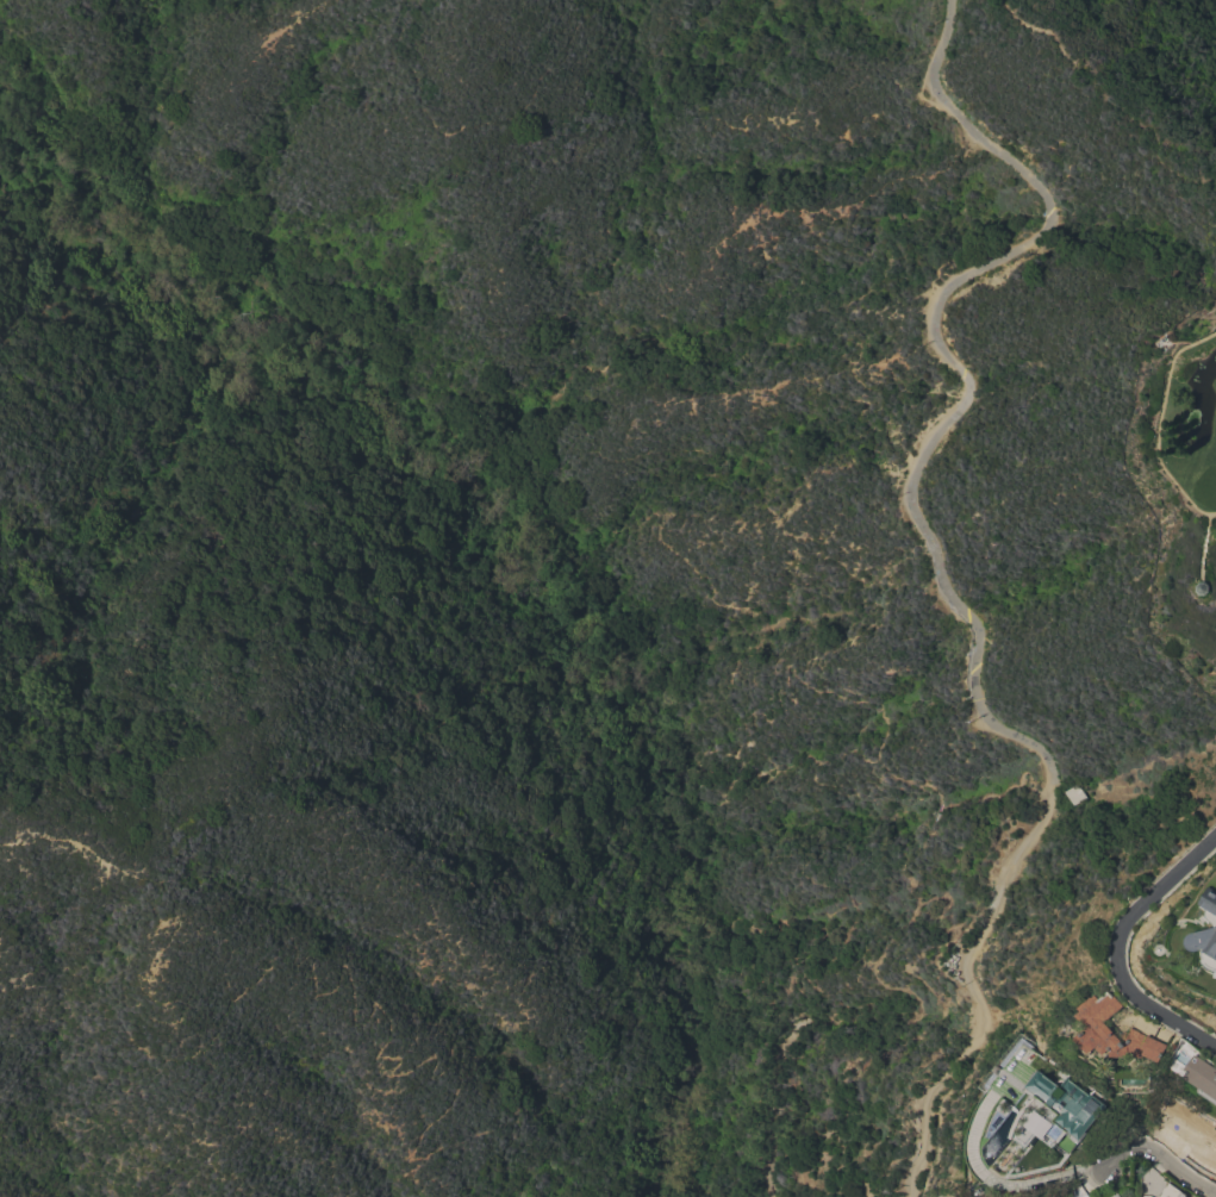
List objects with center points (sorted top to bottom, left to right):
road: (531, 518)
road: (941, 574)
building: (1205, 588)
road: (779, 696)
road: (1043, 792)
building: (1073, 794)
building: (1210, 899)
road: (1123, 943)
building: (1205, 943)
road: (279, 954)
building: (1114, 1033)
building: (1202, 1077)
building: (1066, 1103)
road: (1164, 1161)
road: (998, 1184)
building: (1172, 1191)
building: (1074, 1193)
building: (1112, 1195)
building: (1146, 1196)

